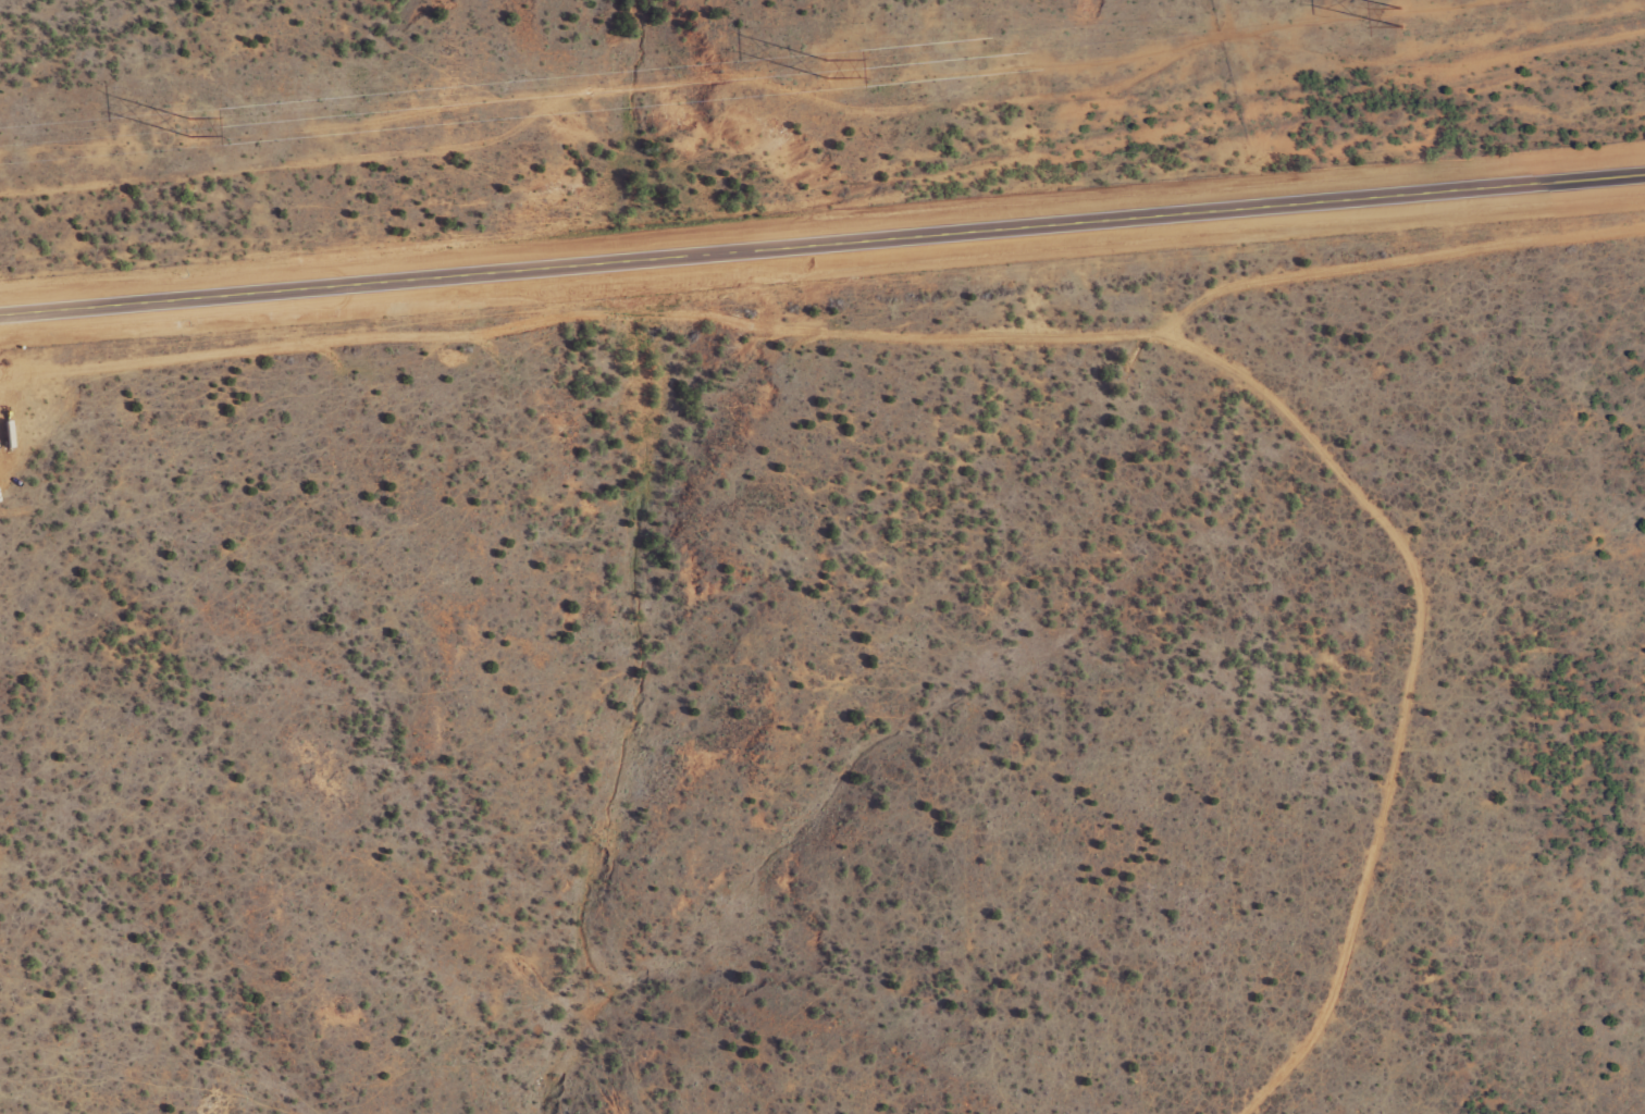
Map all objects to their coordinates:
power tower: (1398, 15)
power tower: (827, 66)
power tower: (193, 125)
road: (821, 246)
road: (833, 367)
road: (1386, 725)

